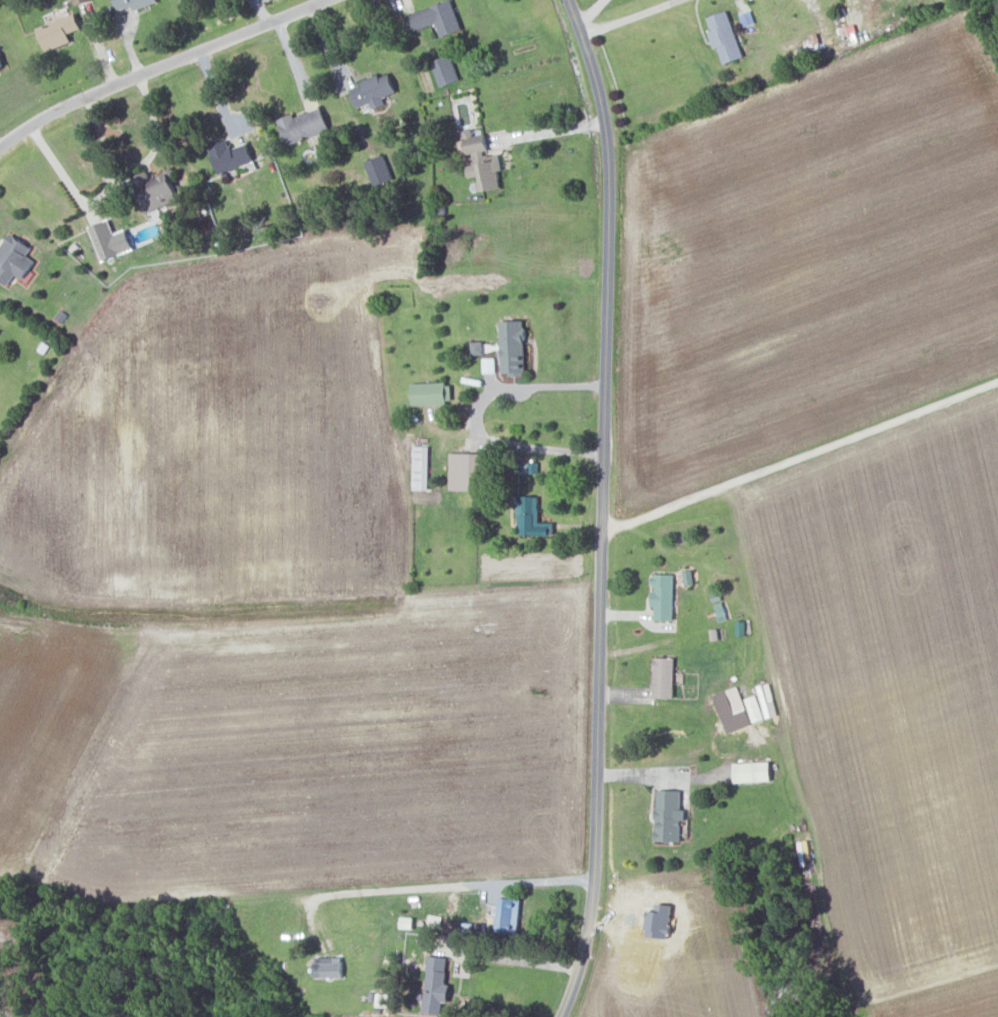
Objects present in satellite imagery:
building: (80, 1)
building: (134, 3)
building: (437, 18)
road: (629, 18)
building: (59, 32)
building: (725, 36)
road: (989, 38)
building: (1, 64)
road: (158, 67)
building: (445, 71)
building: (374, 91)
road: (219, 97)
building: (303, 125)
road: (552, 129)
building: (232, 157)
road: (62, 162)
building: (483, 162)
building: (379, 170)
building: (110, 241)
building: (14, 259)
building: (513, 346)
building: (477, 347)
building: (489, 364)
building: (432, 392)
road: (476, 417)
road: (800, 460)
building: (420, 467)
building: (468, 470)
road: (603, 507)
building: (531, 517)
building: (663, 596)
building: (664, 676)
building: (737, 708)
building: (752, 771)
building: (669, 815)
road: (433, 887)
building: (508, 914)
road: (514, 959)
building: (329, 966)
building: (436, 984)
building: (382, 999)

